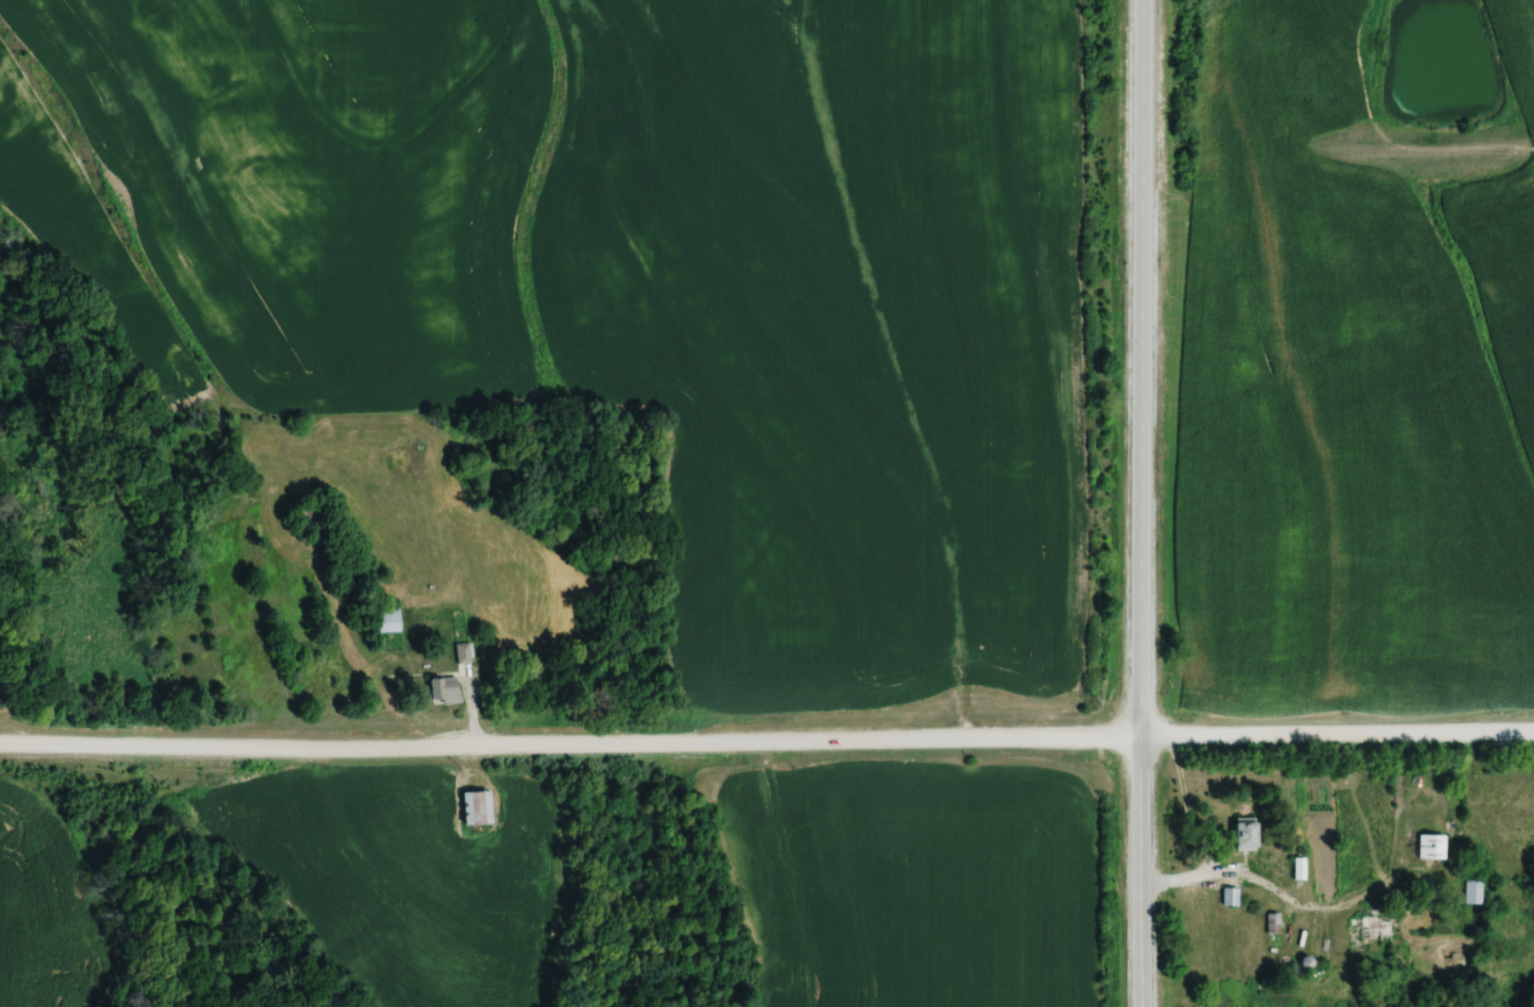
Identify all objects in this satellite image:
dam: (1421, 147)
road: (1138, 503)
building: (388, 618)
building: (464, 651)
building: (443, 688)
road: (766, 745)
building: (475, 806)
building: (1245, 833)
building: (1431, 845)
building: (1299, 867)
road: (1267, 887)
building: (1473, 891)
building: (1230, 896)
building: (1272, 922)
building: (1377, 932)

